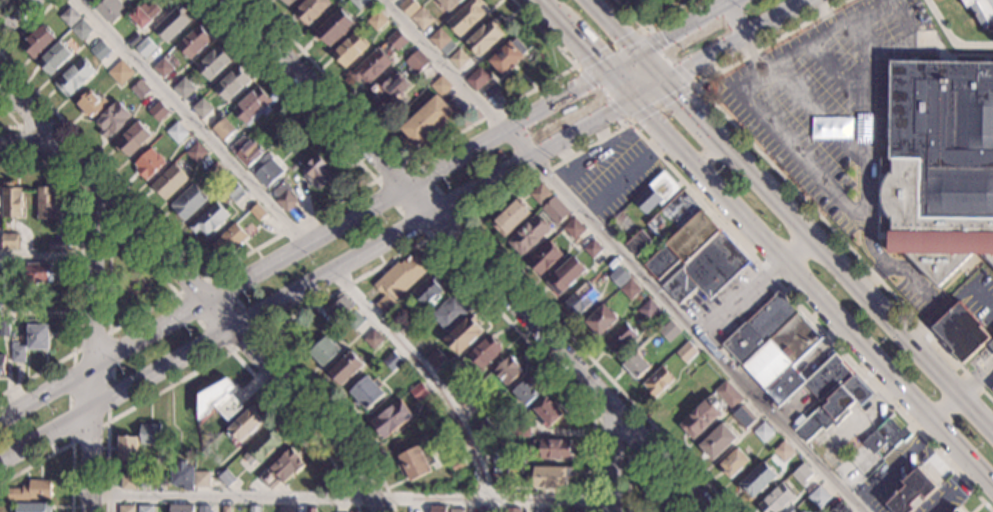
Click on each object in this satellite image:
road: (1, 1)
building: (92, 1)
building: (287, 2)
building: (358, 3)
building: (448, 4)
building: (407, 7)
building: (111, 9)
building: (311, 10)
building: (982, 11)
road: (15, 13)
road: (822, 13)
building: (143, 14)
building: (69, 17)
building: (466, 17)
road: (905, 18)
building: (421, 19)
building: (376, 20)
road: (734, 20)
building: (172, 24)
road: (649, 24)
road: (27, 26)
building: (335, 27)
building: (81, 30)
building: (485, 38)
building: (438, 39)
road: (949, 39)
building: (133, 40)
building: (396, 40)
building: (38, 41)
traffic signals: (665, 41)
building: (194, 42)
building: (447, 47)
building: (145, 49)
building: (348, 50)
building: (100, 51)
traffic signals: (591, 51)
road: (752, 52)
road: (966, 55)
building: (508, 56)
building: (54, 58)
building: (458, 59)
building: (416, 62)
building: (213, 63)
building: (371, 67)
building: (162, 68)
road: (836, 70)
building: (120, 73)
building: (74, 79)
building: (477, 79)
building: (230, 84)
building: (440, 85)
building: (183, 88)
building: (390, 88)
building: (140, 89)
traffic signals: (679, 99)
building: (92, 104)
building: (252, 105)
road: (753, 105)
building: (201, 108)
traffic signals: (609, 110)
building: (158, 111)
road: (819, 114)
parking lot: (836, 117)
building: (113, 119)
building: (426, 121)
road: (627, 122)
road: (18, 123)
road: (191, 123)
building: (222, 129)
building: (177, 133)
road: (602, 137)
building: (132, 139)
road: (27, 144)
road: (37, 144)
road: (864, 144)
building: (238, 145)
road: (432, 147)
building: (196, 153)
building: (249, 153)
road: (709, 155)
road: (590, 156)
building: (148, 164)
building: (940, 164)
building: (265, 170)
building: (214, 171)
building: (318, 172)
road: (626, 174)
road: (785, 180)
road: (374, 181)
building: (169, 182)
building: (233, 190)
building: (656, 192)
building: (539, 194)
building: (284, 196)
building: (11, 201)
building: (47, 203)
road: (92, 203)
building: (188, 203)
road: (425, 205)
road: (369, 207)
building: (555, 210)
building: (257, 212)
road: (789, 214)
building: (509, 218)
building: (209, 220)
road: (398, 228)
building: (573, 229)
building: (528, 235)
building: (229, 240)
building: (10, 241)
road: (265, 242)
road: (767, 242)
building: (56, 245)
road: (133, 248)
building: (592, 248)
building: (688, 249)
road: (44, 255)
road: (396, 255)
road: (624, 256)
building: (543, 258)
road: (73, 267)
building: (38, 274)
building: (565, 275)
road: (911, 275)
building: (618, 276)
building: (1, 279)
building: (397, 281)
road: (754, 286)
building: (629, 289)
building: (427, 290)
road: (197, 292)
building: (581, 298)
building: (339, 308)
building: (647, 309)
building: (449, 312)
building: (354, 320)
building: (601, 320)
building: (4, 325)
building: (668, 331)
road: (262, 332)
building: (961, 332)
building: (463, 334)
building: (37, 337)
building: (373, 339)
building: (620, 339)
building: (990, 346)
road: (89, 347)
building: (17, 351)
building: (324, 351)
building: (484, 352)
building: (686, 352)
road: (219, 356)
building: (434, 358)
building: (392, 361)
building: (793, 363)
building: (2, 365)
building: (636, 366)
building: (346, 368)
building: (507, 370)
road: (425, 373)
building: (451, 380)
road: (974, 381)
building: (657, 382)
road: (987, 383)
building: (992, 389)
building: (525, 391)
building: (367, 392)
building: (419, 392)
building: (728, 394)
building: (219, 399)
building: (467, 401)
road: (947, 407)
building: (547, 412)
building: (700, 417)
building: (742, 417)
building: (391, 419)
road: (107, 420)
building: (244, 425)
building: (480, 428)
building: (520, 432)
building: (763, 432)
building: (886, 434)
building: (150, 435)
road: (612, 440)
building: (717, 442)
road: (66, 445)
building: (262, 446)
building: (553, 449)
building: (127, 451)
building: (783, 451)
building: (500, 456)
building: (416, 462)
building: (734, 462)
road: (614, 463)
road: (661, 463)
road: (898, 463)
building: (458, 464)
building: (283, 468)
road: (636, 469)
building: (181, 474)
building: (802, 475)
building: (550, 477)
building: (201, 478)
building: (226, 478)
building: (144, 480)
building: (499, 480)
building: (758, 480)
building: (128, 481)
building: (30, 491)
park: (645, 491)
building: (911, 491)
road: (352, 497)
building: (818, 497)
building: (777, 499)
road: (941, 500)
building: (33, 507)
building: (180, 508)
building: (438, 508)
building: (839, 508)
building: (126, 509)
building: (145, 509)
building: (204, 509)
building: (225, 509)
building: (254, 509)
building: (512, 509)
building: (569, 509)
building: (287, 510)
building: (311, 510)
building: (457, 510)
building: (485, 510)
road: (630, 510)
building: (551, 511)
building: (793, 511)
building: (956, 511)

